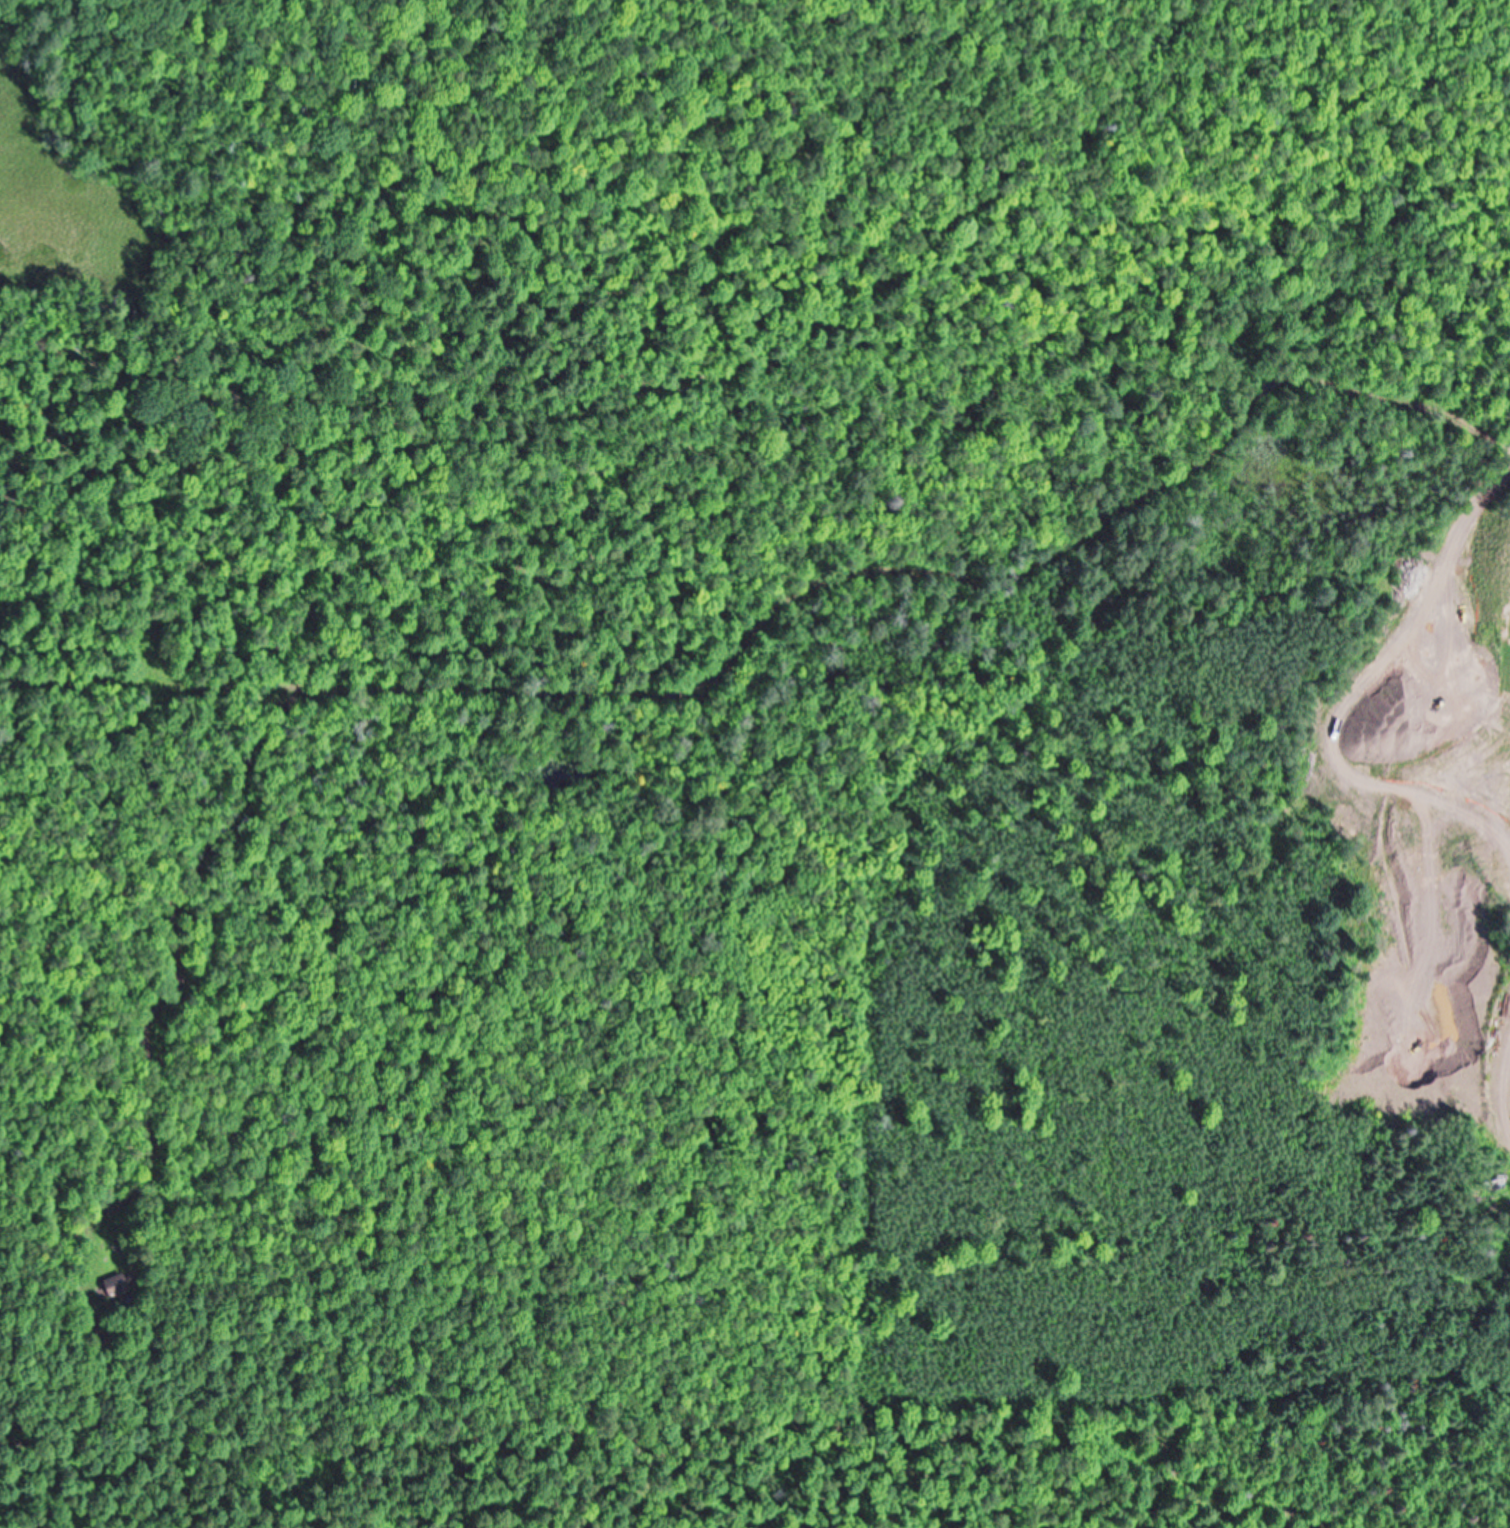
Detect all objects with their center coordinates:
quarry: (1128, 911)

